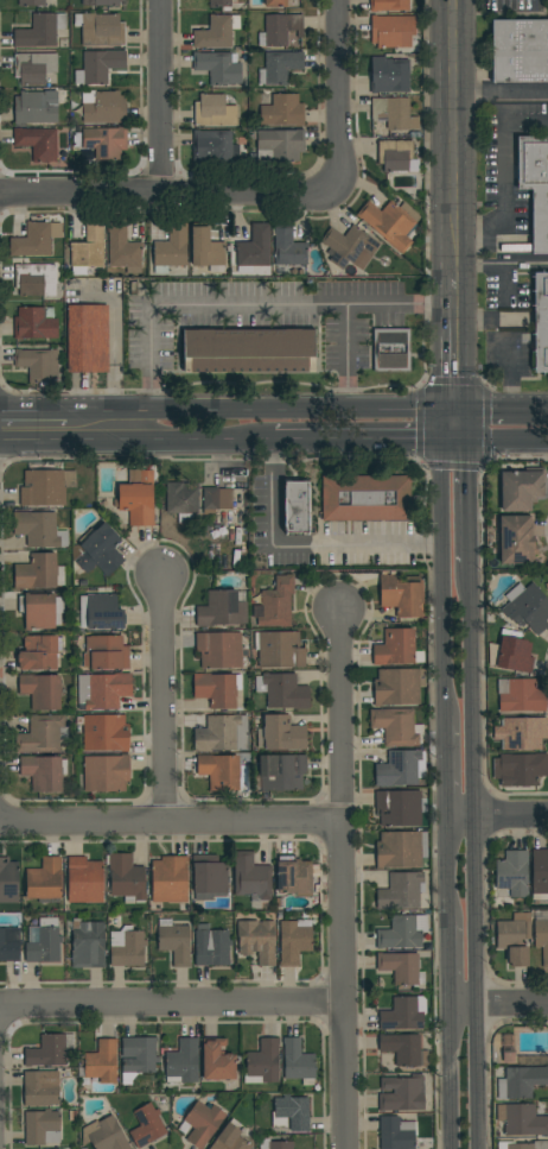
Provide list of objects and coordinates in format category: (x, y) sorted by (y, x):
building: (32, 2)
building: (101, 2)
building: (274, 4)
building: (221, 5)
building: (389, 5)
building: (100, 30)
building: (279, 30)
building: (390, 30)
building: (40, 31)
building: (216, 32)
building: (520, 51)
building: (101, 65)
building: (34, 67)
building: (218, 67)
building: (280, 67)
building: (389, 75)
road: (502, 90)
road: (160, 97)
road: (338, 99)
building: (103, 107)
building: (34, 108)
building: (214, 111)
building: (283, 111)
building: (394, 113)
road: (457, 139)
building: (38, 143)
building: (104, 143)
building: (280, 145)
building: (215, 147)
building: (395, 154)
road: (505, 176)
building: (535, 185)
road: (170, 196)
building: (390, 222)
building: (33, 240)
building: (348, 245)
building: (287, 247)
building: (254, 248)
building: (123, 250)
building: (171, 250)
building: (205, 250)
building: (87, 251)
road: (503, 266)
building: (34, 279)
road: (255, 304)
building: (541, 322)
building: (36, 323)
building: (88, 339)
road: (457, 341)
building: (248, 351)
building: (391, 351)
road: (113, 353)
road: (345, 354)
building: (39, 366)
road: (510, 373)
traffic signals: (457, 405)
road: (502, 405)
road: (262, 406)
road: (34, 409)
road: (506, 440)
road: (368, 441)
traffic signals: (441, 441)
traffic signals: (466, 441)
road: (135, 442)
road: (467, 486)
building: (46, 487)
building: (521, 488)
building: (216, 498)
building: (365, 498)
building: (138, 500)
building: (181, 500)
building: (295, 507)
building: (39, 529)
building: (516, 541)
road: (307, 545)
building: (100, 550)
road: (441, 562)
building: (37, 573)
building: (402, 595)
building: (275, 604)
building: (527, 608)
building: (221, 610)
building: (42, 611)
building: (103, 612)
building: (399, 649)
building: (219, 650)
building: (279, 650)
building: (39, 652)
building: (106, 654)
building: (511, 655)
building: (396, 687)
building: (102, 690)
building: (216, 690)
building: (40, 692)
building: (282, 692)
road: (471, 694)
building: (521, 695)
road: (164, 700)
building: (397, 726)
building: (106, 733)
building: (521, 733)
building: (42, 734)
building: (222, 734)
building: (280, 734)
building: (401, 769)
building: (518, 769)
building: (219, 771)
building: (44, 772)
building: (281, 772)
road: (444, 772)
building: (106, 774)
building: (399, 808)
road: (510, 819)
road: (459, 820)
road: (171, 823)
building: (401, 850)
road: (446, 871)
building: (540, 871)
building: (512, 873)
building: (209, 875)
building: (294, 876)
building: (251, 877)
building: (126, 878)
building: (170, 879)
road: (343, 879)
building: (8, 880)
building: (44, 880)
building: (84, 880)
building: (402, 891)
road: (474, 914)
building: (402, 932)
building: (515, 937)
building: (541, 939)
building: (256, 940)
building: (43, 941)
building: (294, 941)
building: (174, 942)
building: (9, 945)
building: (88, 945)
building: (127, 947)
building: (211, 947)
road: (448, 966)
building: (402, 967)
road: (172, 1004)
road: (512, 1008)
road: (463, 1009)
building: (404, 1014)
building: (403, 1049)
building: (46, 1052)
building: (138, 1056)
building: (508, 1056)
building: (531, 1060)
building: (217, 1061)
building: (298, 1061)
building: (101, 1062)
building: (180, 1062)
building: (262, 1063)
road: (451, 1079)
road: (477, 1079)
building: (521, 1081)
building: (40, 1088)
building: (402, 1094)
building: (291, 1113)
building: (522, 1119)
building: (203, 1123)
building: (40, 1126)
building: (147, 1126)
building: (396, 1134)
building: (104, 1135)
building: (230, 1137)
building: (274, 1144)
building: (522, 1145)

